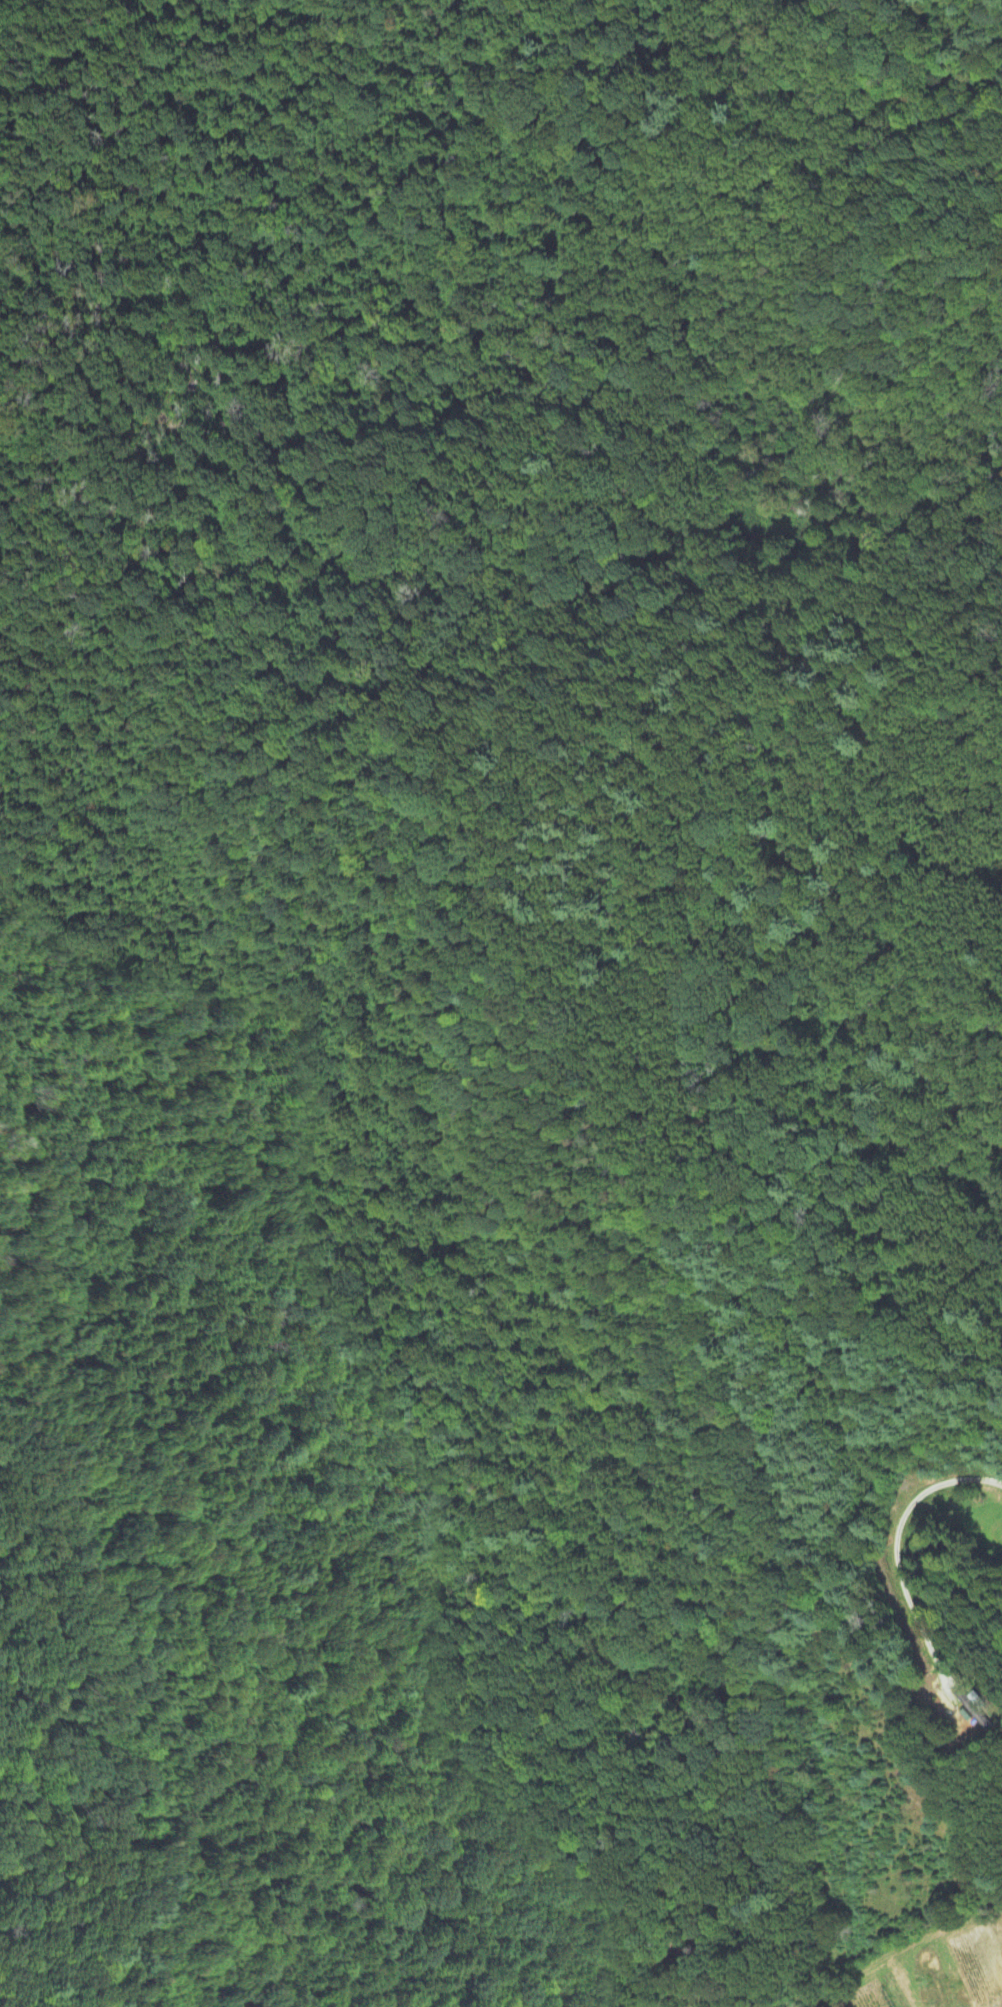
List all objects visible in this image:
road: (893, 1545)

